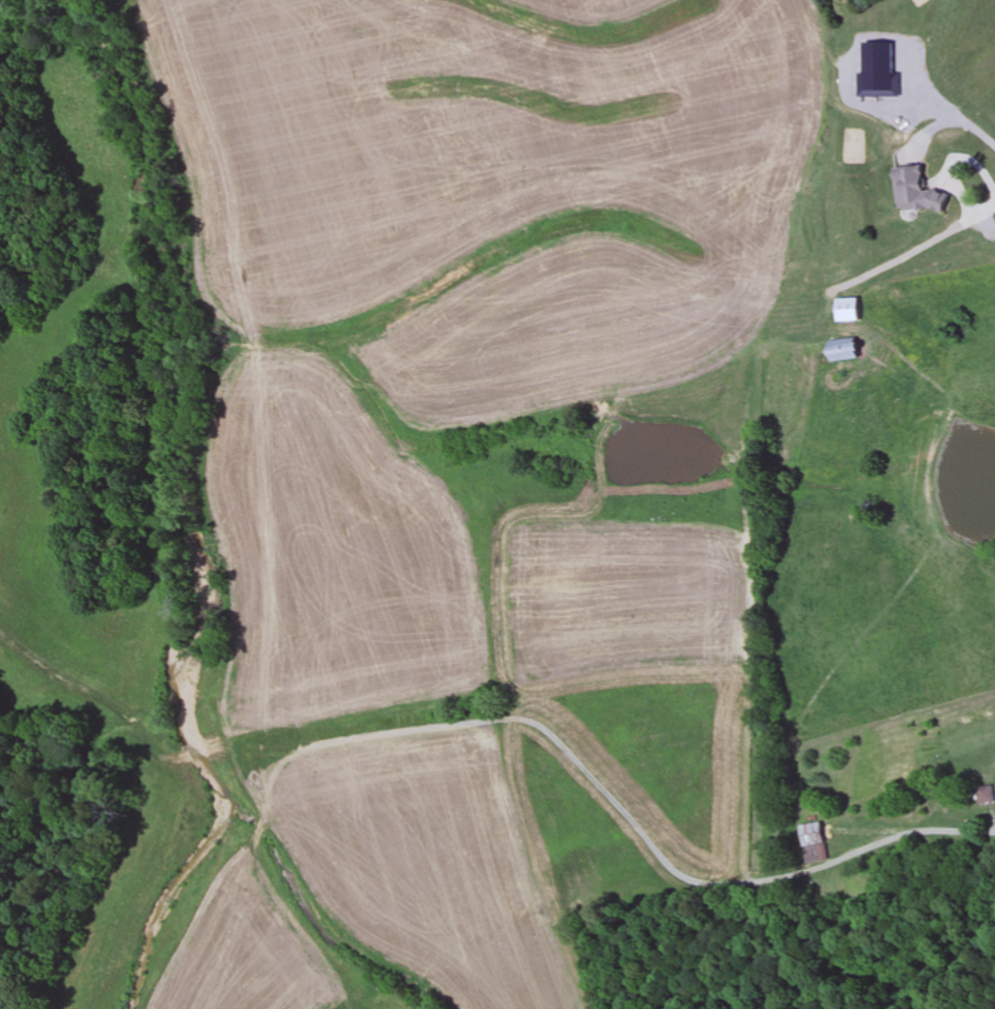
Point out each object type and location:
building: (849, 309)
building: (845, 349)
building: (984, 795)
building: (813, 842)

